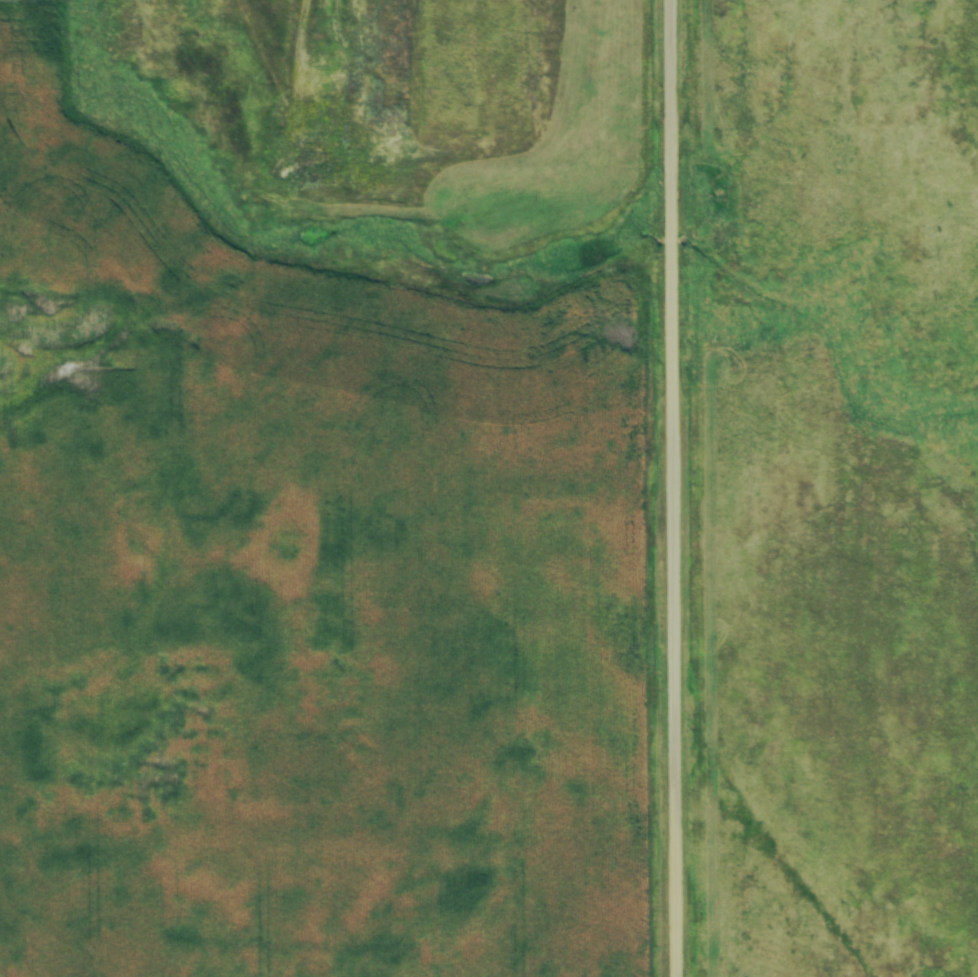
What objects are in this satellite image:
road: (676, 488)

